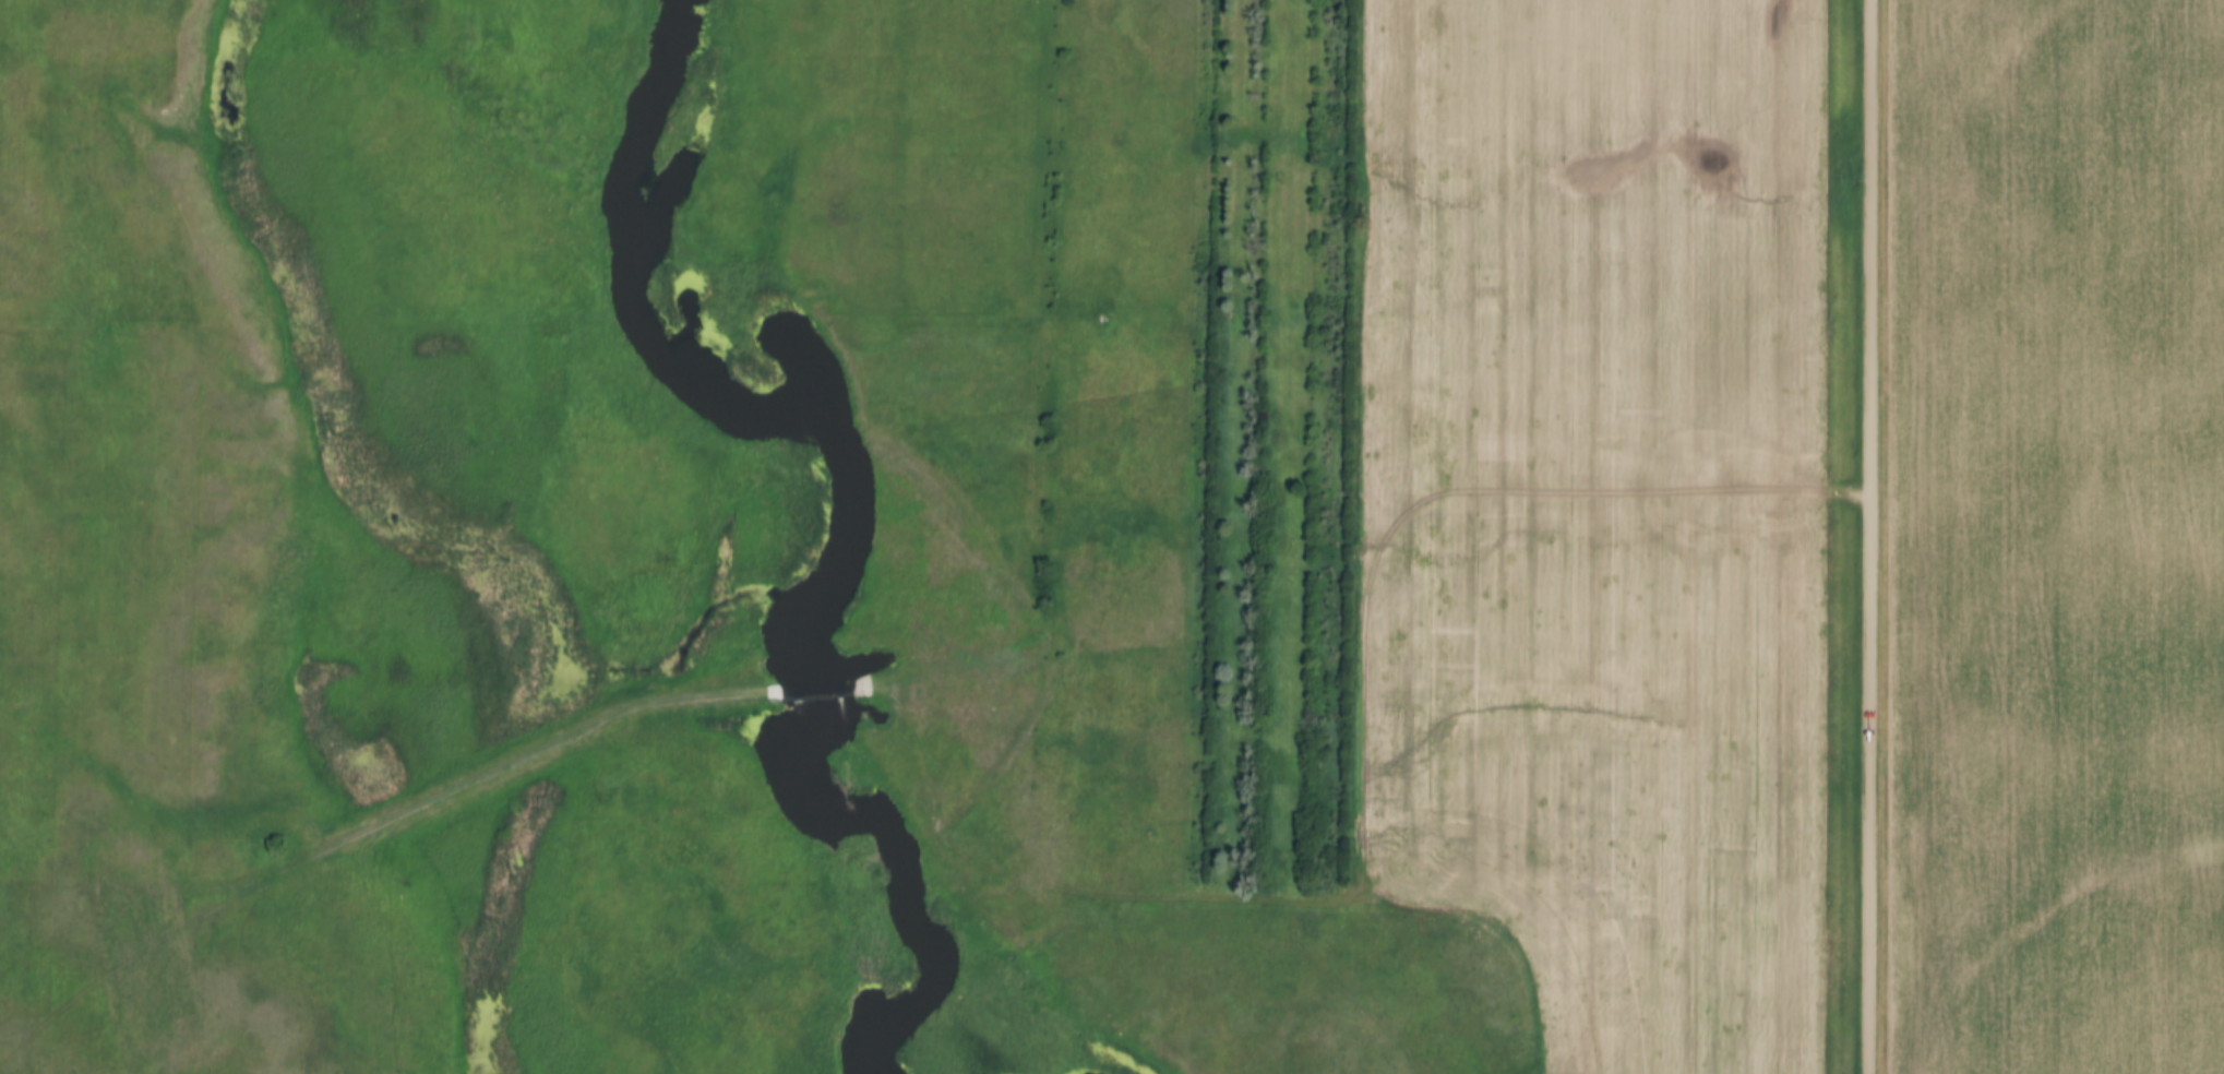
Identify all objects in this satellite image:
road: (1873, 536)

